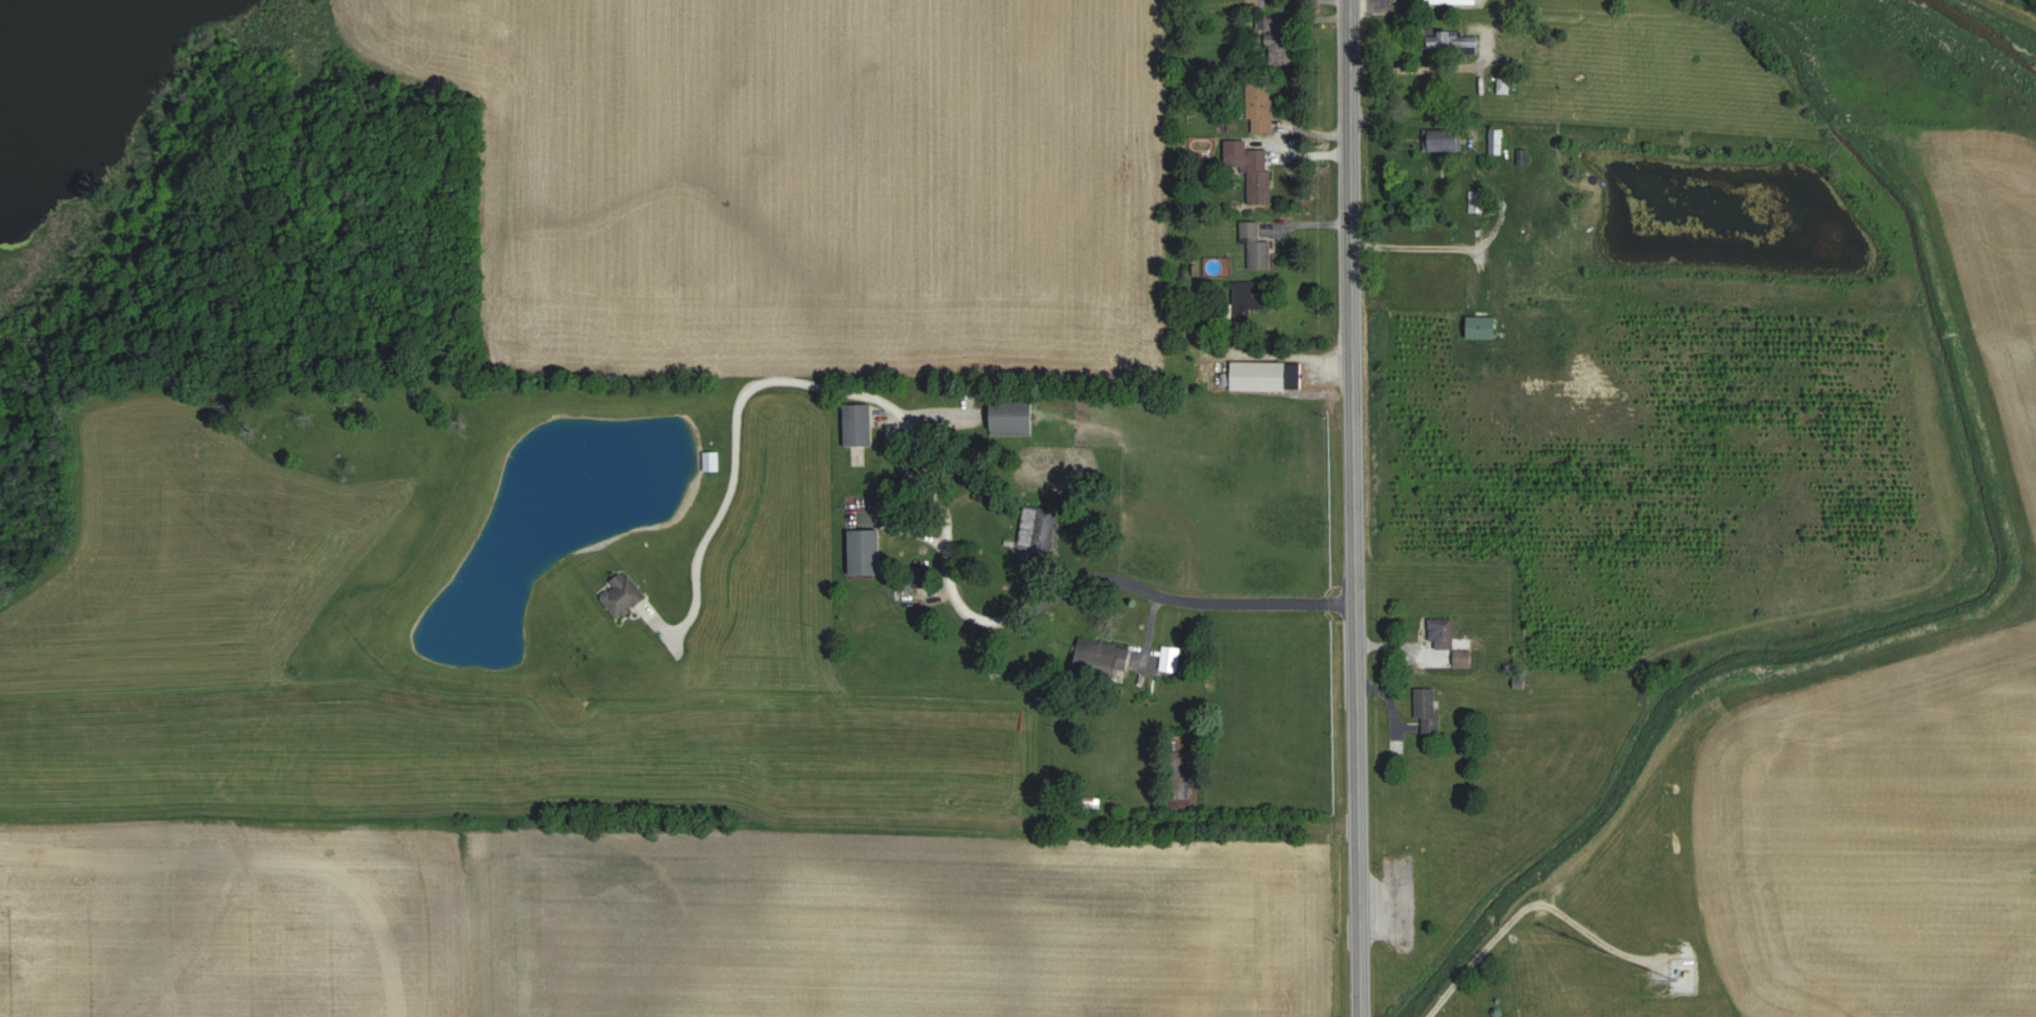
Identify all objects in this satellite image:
building: (1281, 20)
building: (1462, 42)
building: (1281, 49)
road: (1423, 66)
building: (1447, 140)
building: (1498, 142)
building: (1253, 170)
building: (1480, 202)
road: (1462, 245)
building: (1257, 246)
building: (1250, 299)
building: (1485, 326)
building: (1268, 375)
road: (742, 391)
building: (1014, 417)
building: (859, 424)
building: (713, 459)
road: (1349, 508)
building: (1039, 528)
airport runway: (785, 539)
building: (866, 550)
road: (1110, 575)
building: (623, 594)
building: (1444, 633)
airport runway: (275, 642)
building: (1104, 654)
building: (1465, 658)
building: (1430, 708)

